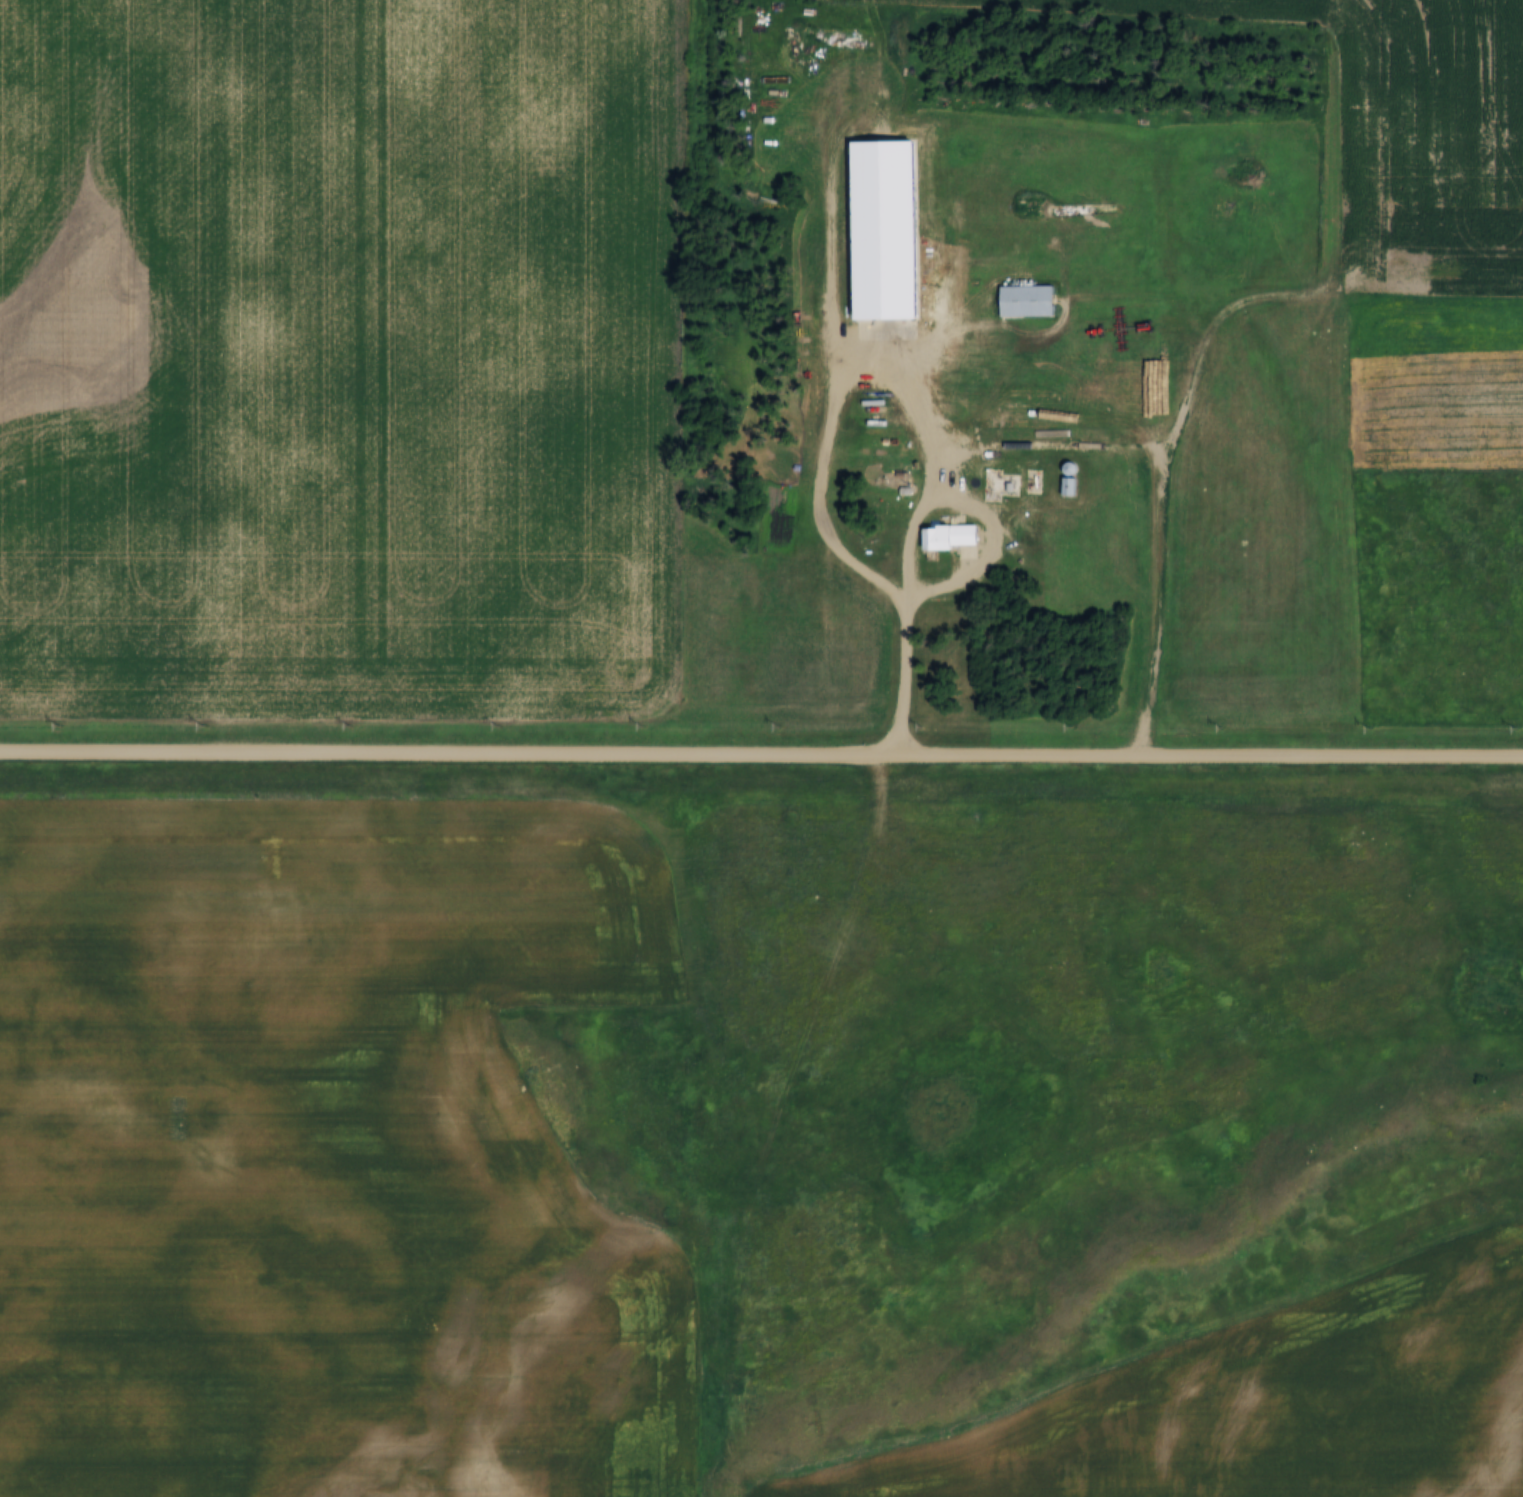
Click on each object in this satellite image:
building: (1027, 303)
building: (1069, 469)
building: (999, 482)
building: (1068, 487)
building: (951, 536)
road: (761, 755)

